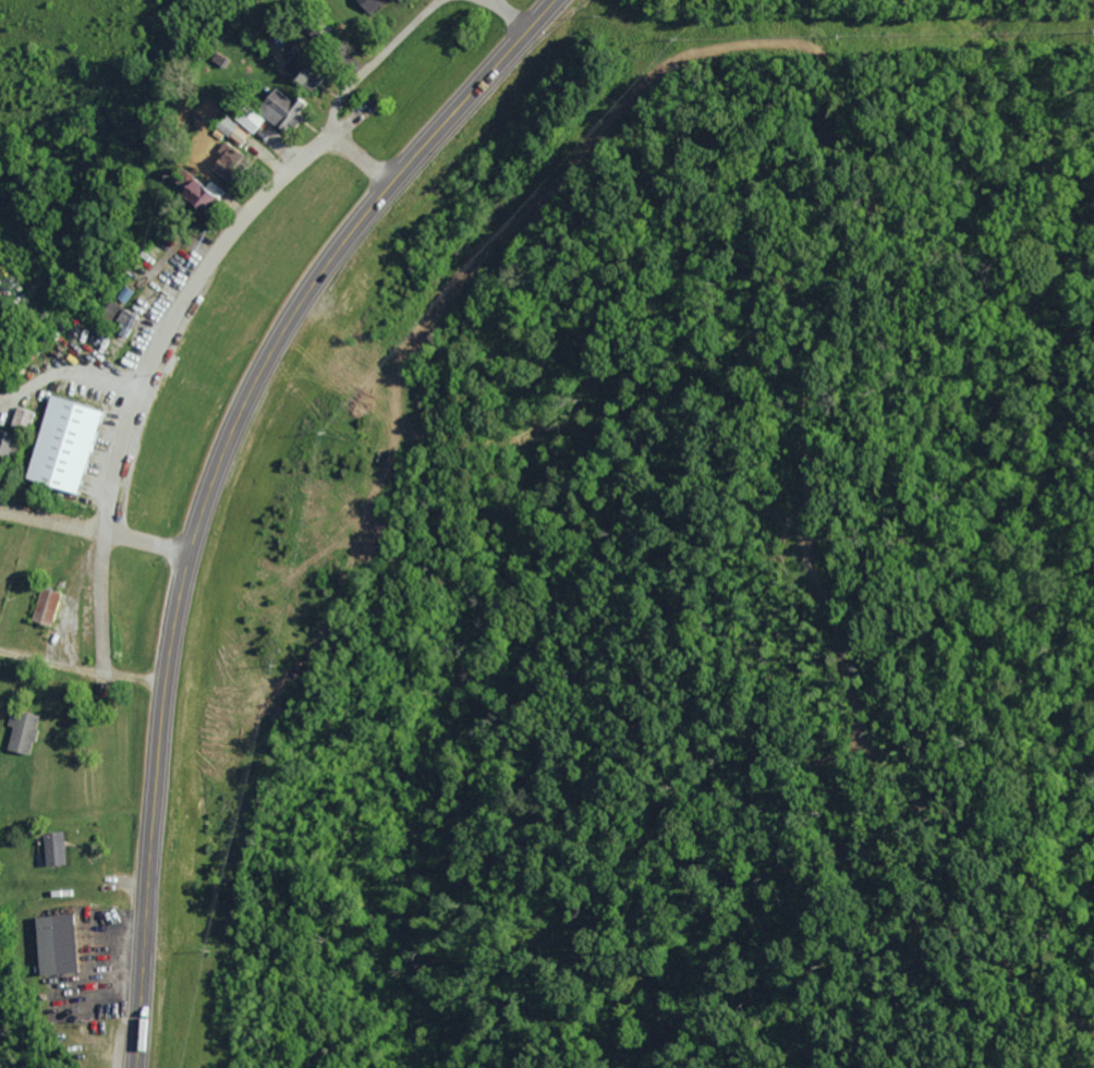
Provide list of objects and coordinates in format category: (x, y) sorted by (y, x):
building: (367, 4)
road: (479, 7)
road: (499, 20)
road: (352, 62)
building: (299, 71)
building: (269, 110)
building: (230, 129)
building: (224, 161)
building: (197, 193)
building: (119, 316)
building: (165, 361)
road: (131, 369)
building: (59, 444)
road: (209, 480)
road: (136, 542)
building: (42, 606)
building: (19, 731)
building: (51, 848)
building: (52, 944)

